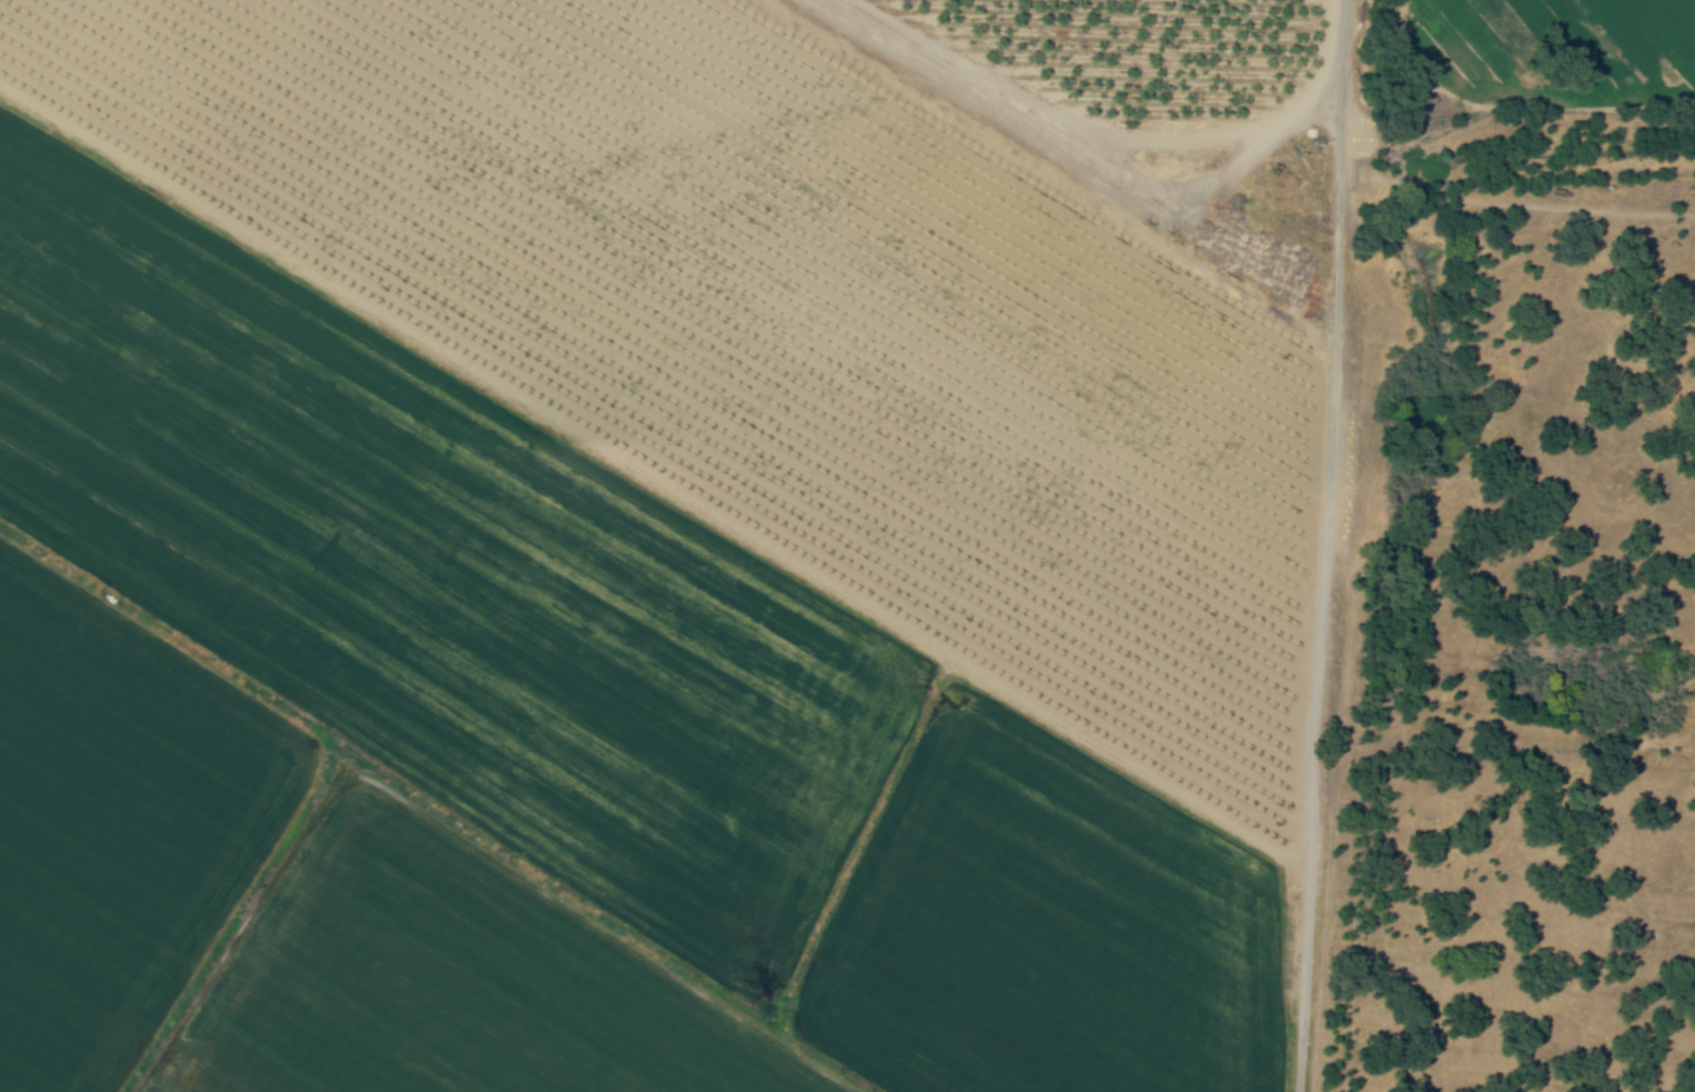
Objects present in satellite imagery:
road: (1347, 37)

